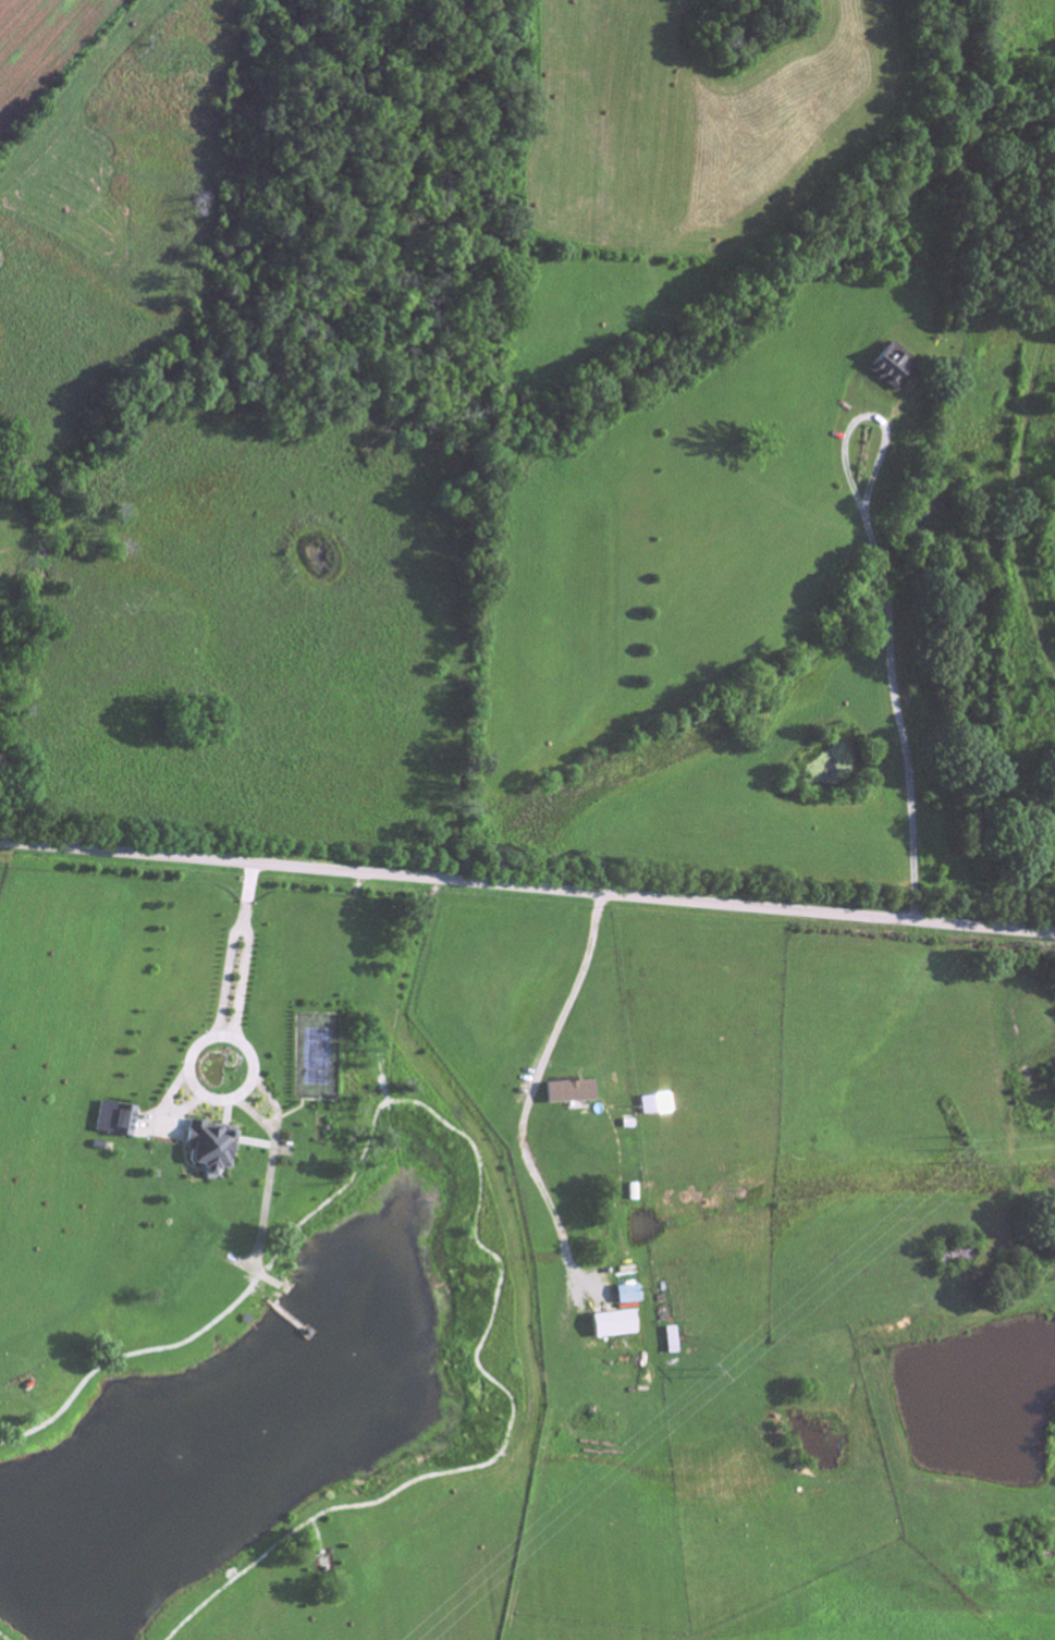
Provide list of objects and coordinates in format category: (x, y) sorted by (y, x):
road: (892, 605)
road: (527, 890)
road: (233, 950)
building: (571, 1094)
road: (522, 1096)
road: (212, 1098)
building: (113, 1122)
building: (207, 1149)
building: (613, 1326)
power tower: (715, 1372)

